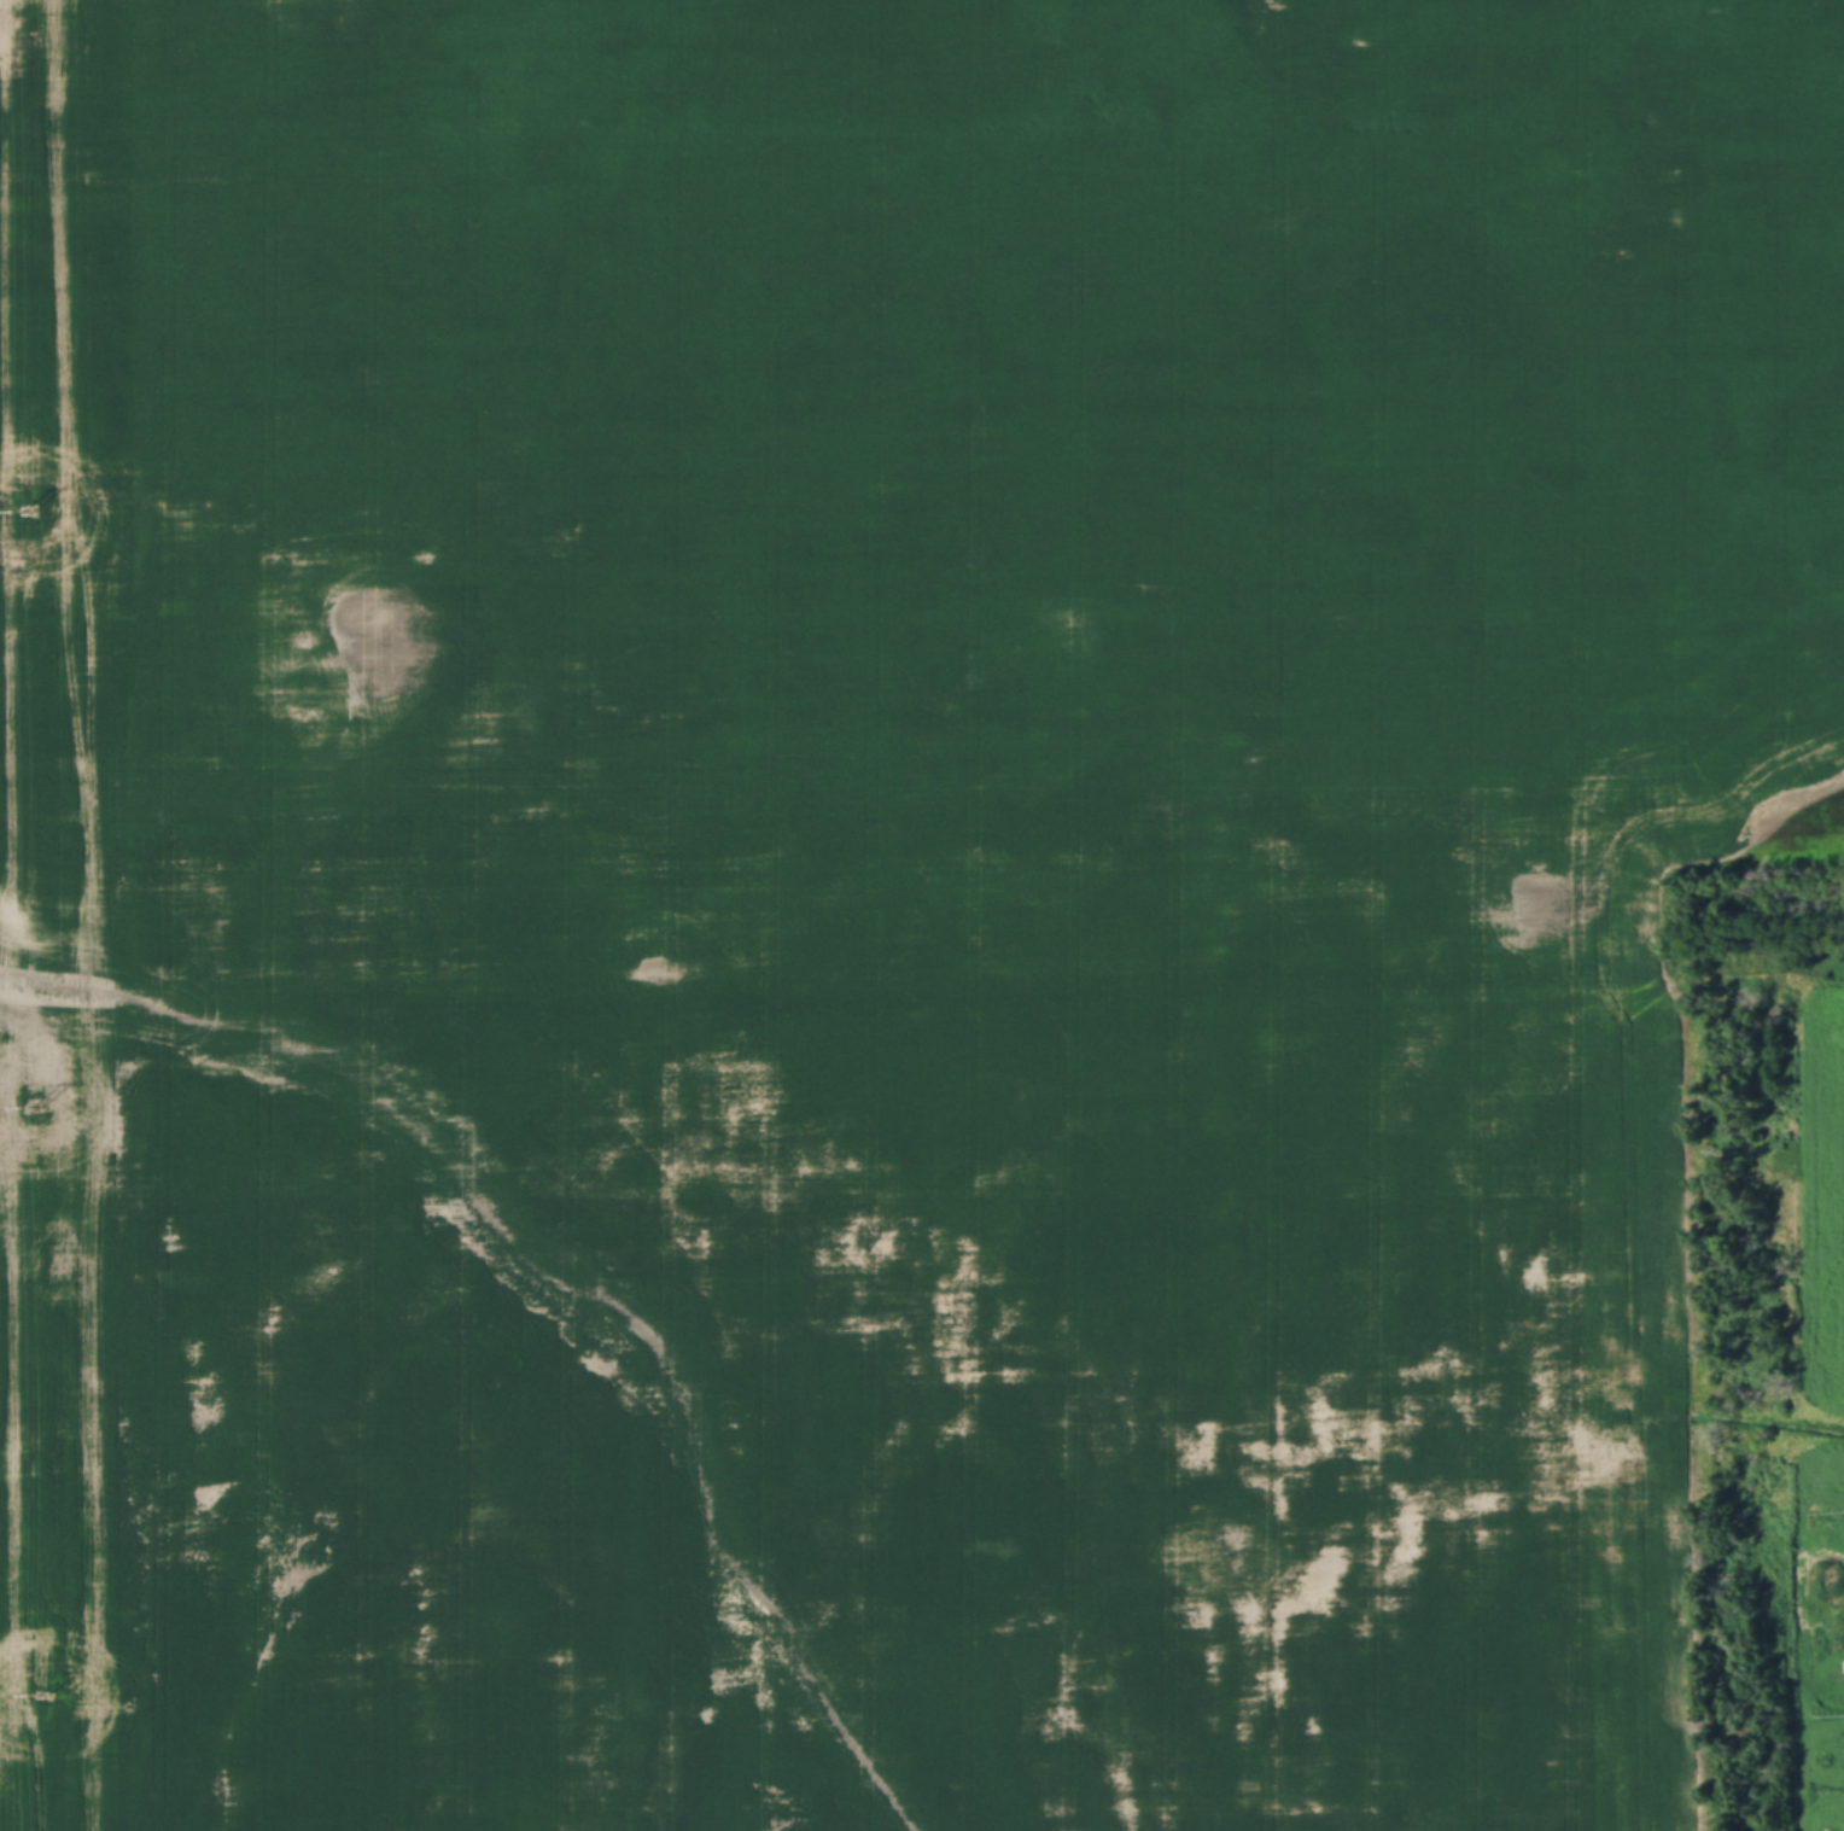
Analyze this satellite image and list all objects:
power tower: (28, 512)
power tower: (34, 1109)
power tower: (41, 1697)

